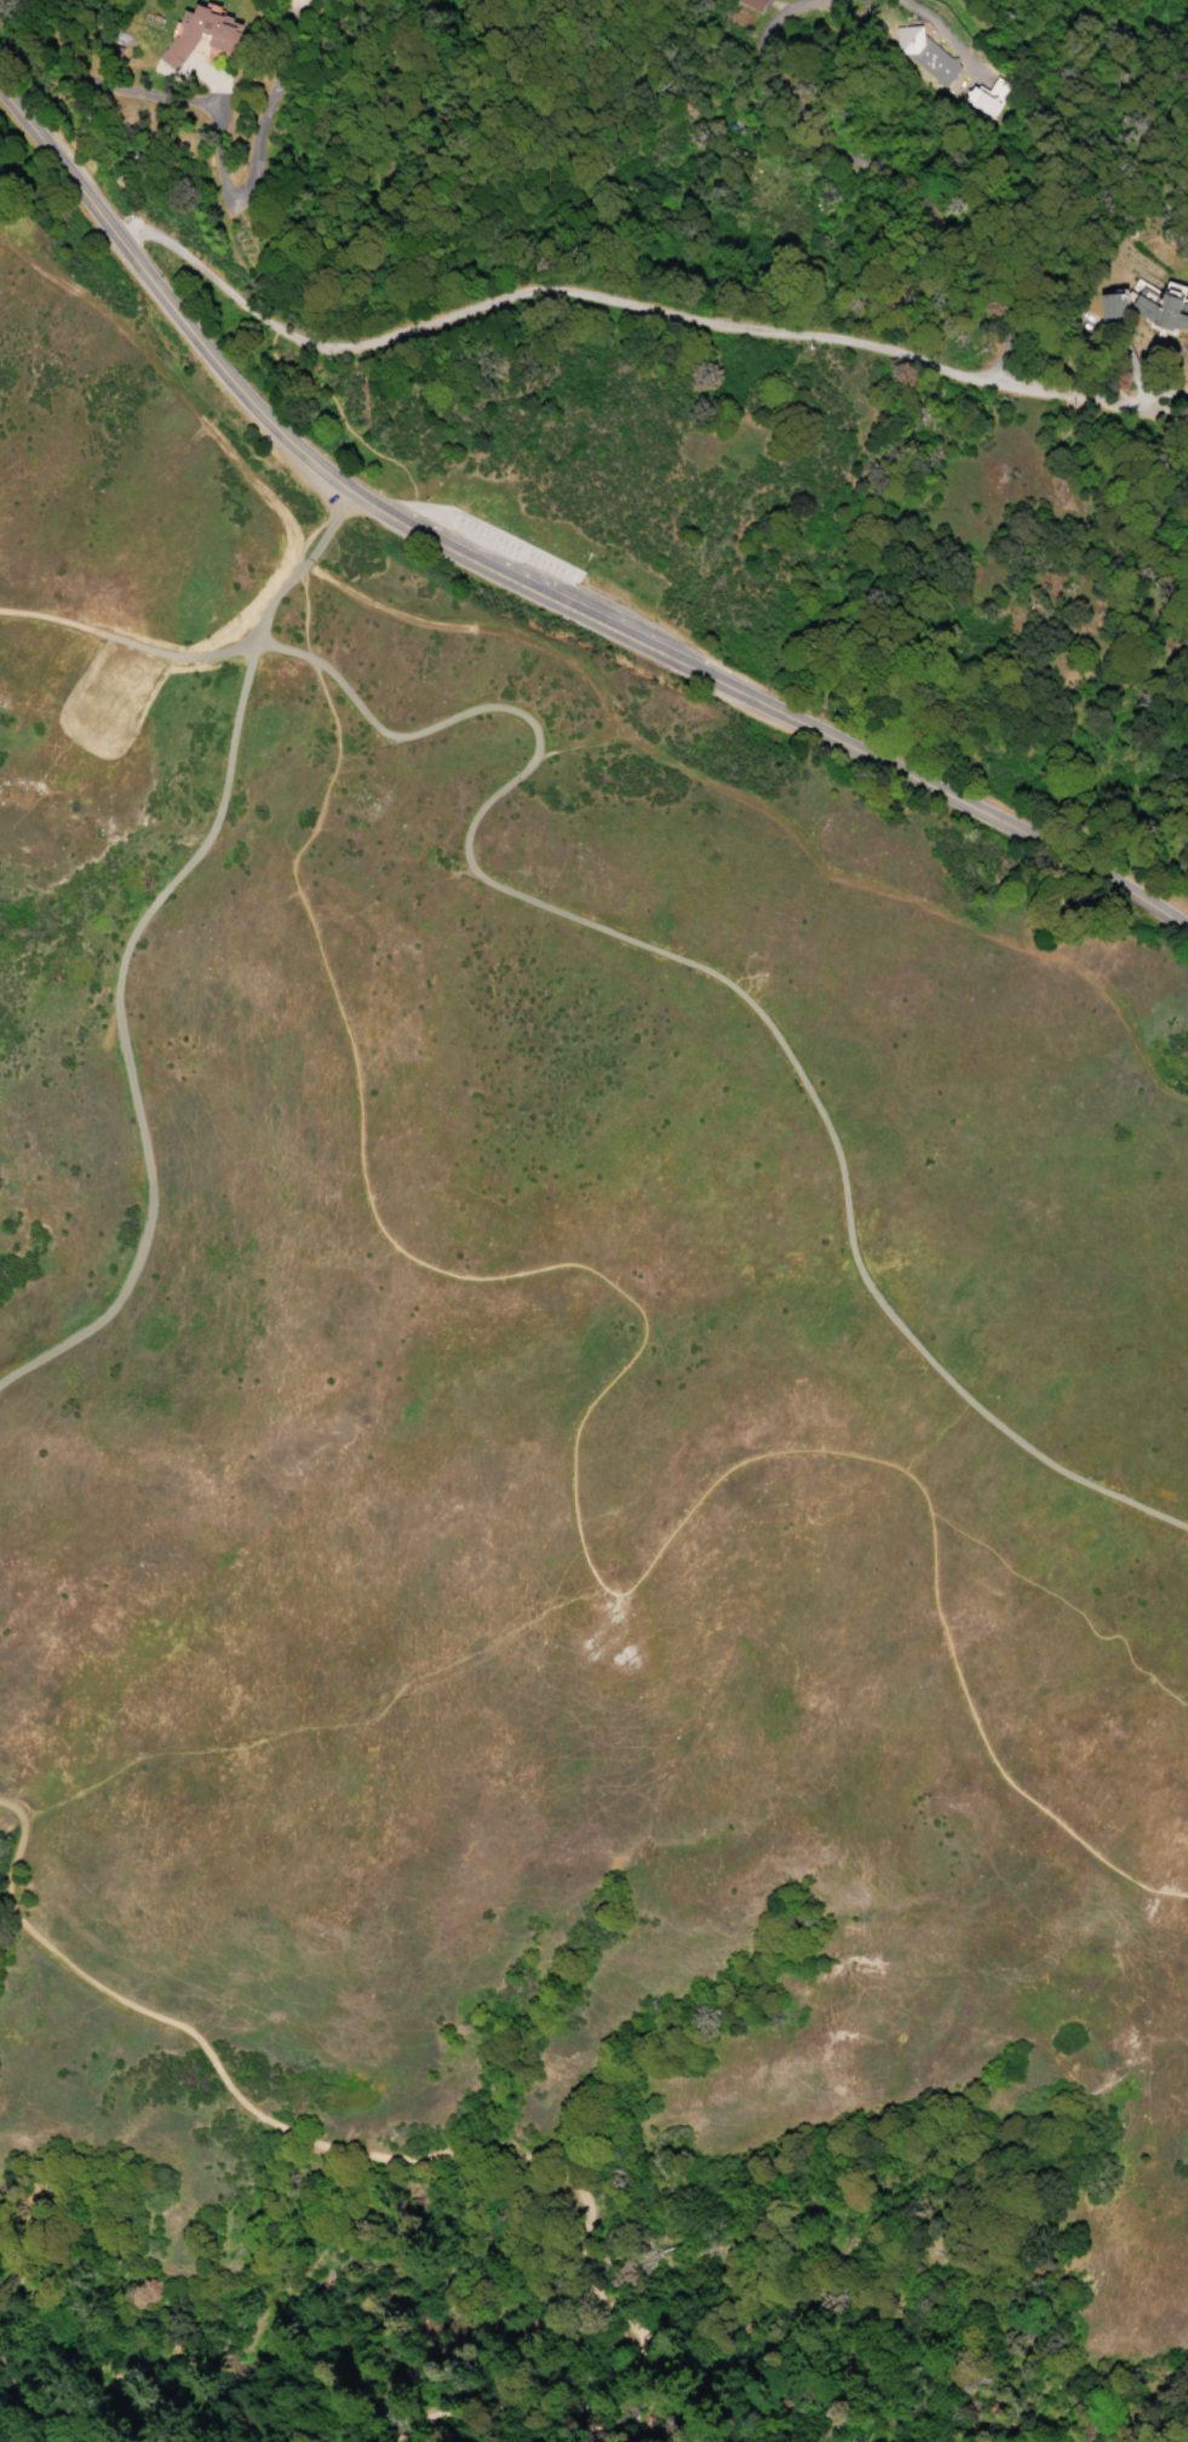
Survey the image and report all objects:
building: (751, 4)
building: (201, 31)
building: (924, 54)
building: (983, 99)
road: (218, 159)
road: (608, 300)
building: (1158, 304)
road: (1170, 413)
road: (332, 415)
parking lot: (532, 564)
road: (529, 591)
road: (294, 620)
road: (121, 632)
road: (270, 661)
road: (122, 943)
road: (733, 986)
road: (575, 1458)
road: (327, 2138)
road: (457, 2411)
road: (517, 2412)

